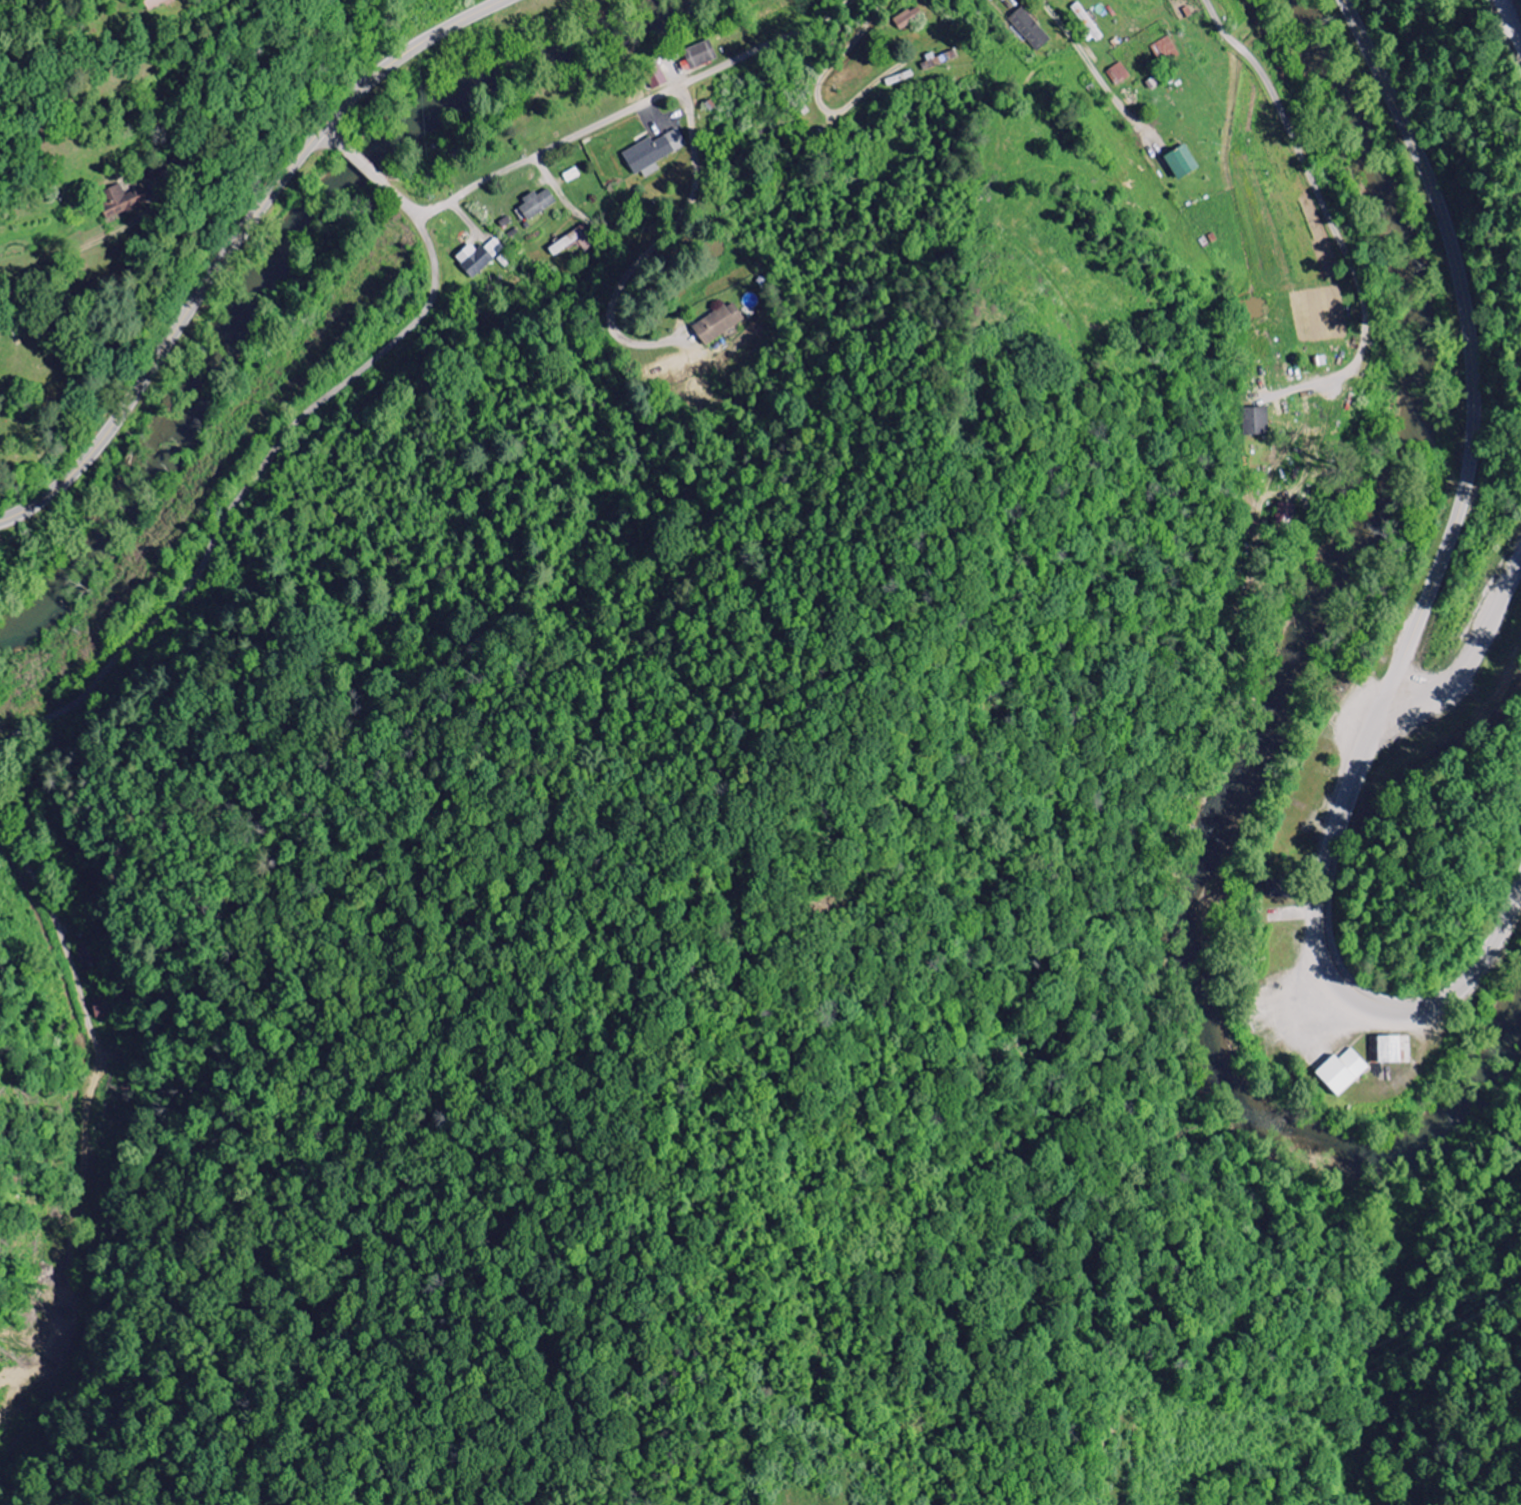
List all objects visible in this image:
building: (156, 3)
building: (909, 17)
building: (1031, 29)
building: (1168, 50)
building: (700, 56)
building: (1120, 74)
building: (657, 78)
road: (617, 116)
road: (335, 138)
building: (655, 151)
building: (1184, 162)
road: (364, 166)
road: (1311, 177)
building: (123, 201)
building: (537, 205)
building: (570, 240)
road: (234, 241)
building: (480, 257)
road: (37, 282)
building: (720, 324)
park: (33, 415)
building: (1257, 422)
road: (243, 492)
building: (1286, 517)
road: (1422, 608)
building: (1280, 890)
road: (86, 1003)
building: (105, 1007)
building: (1396, 1051)
building: (1345, 1073)

